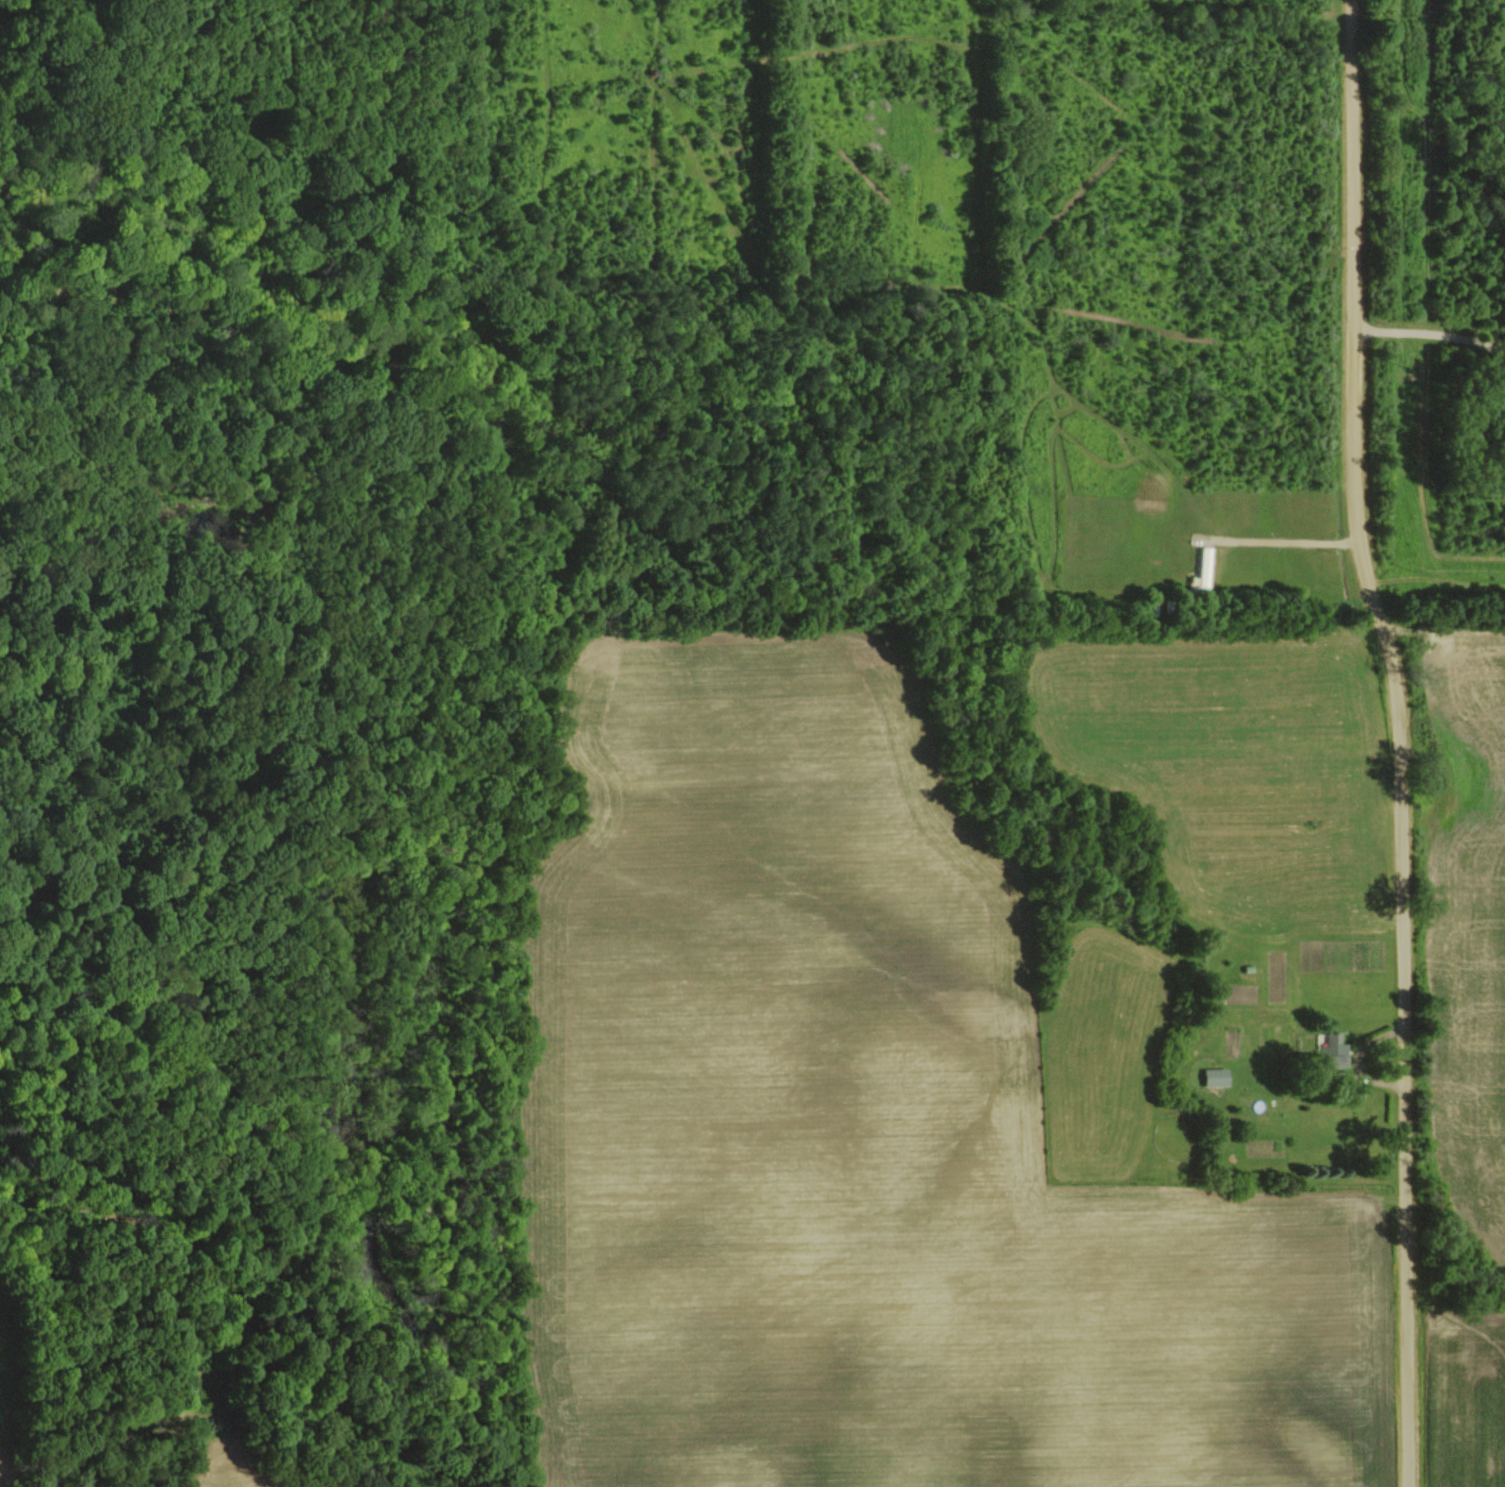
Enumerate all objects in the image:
road: (1430, 330)
road: (1282, 540)
building: (1200, 567)
road: (1399, 740)
building: (1331, 1052)
building: (1218, 1076)

